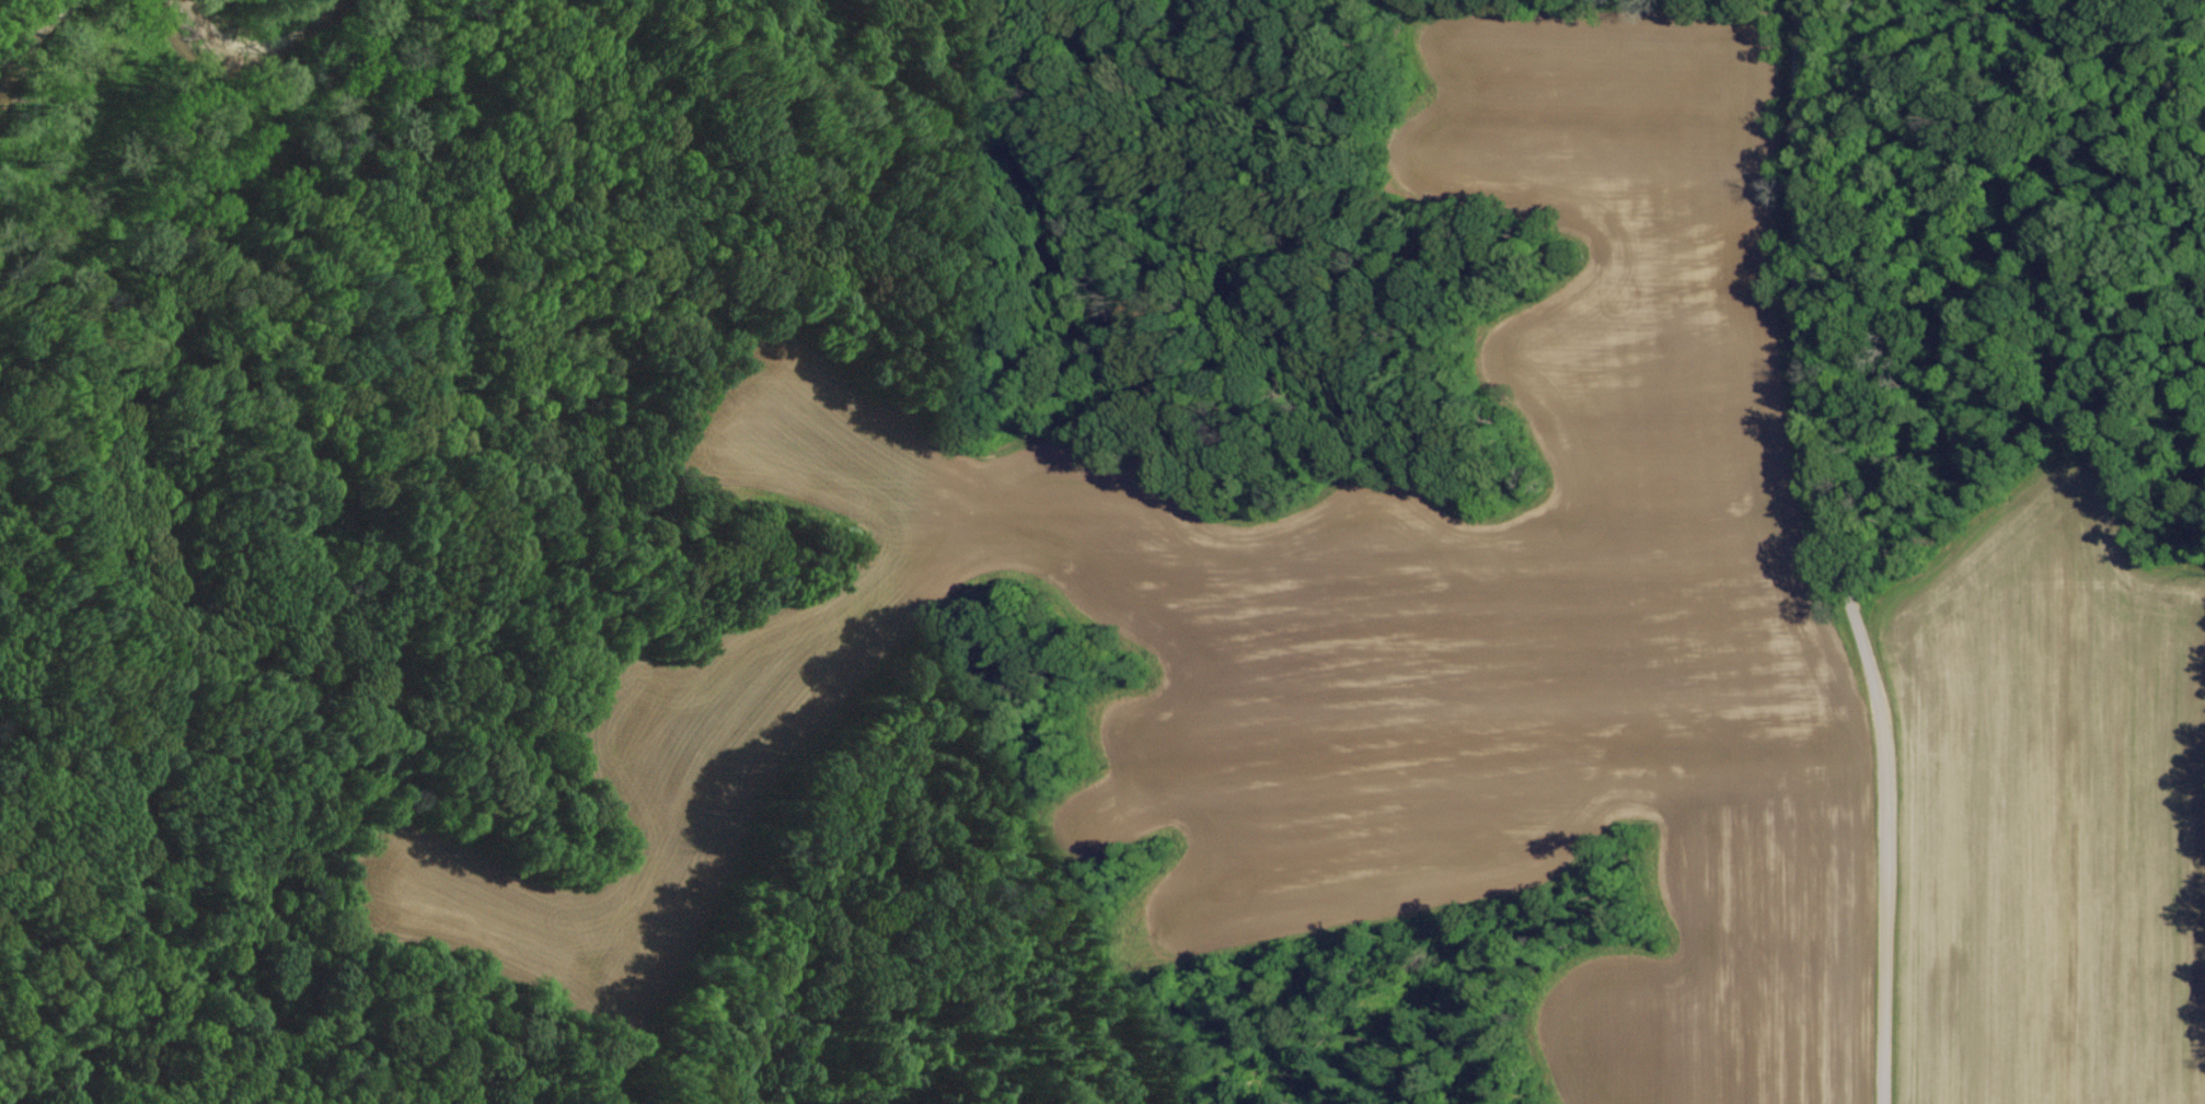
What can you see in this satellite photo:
road: (1827, 554)

